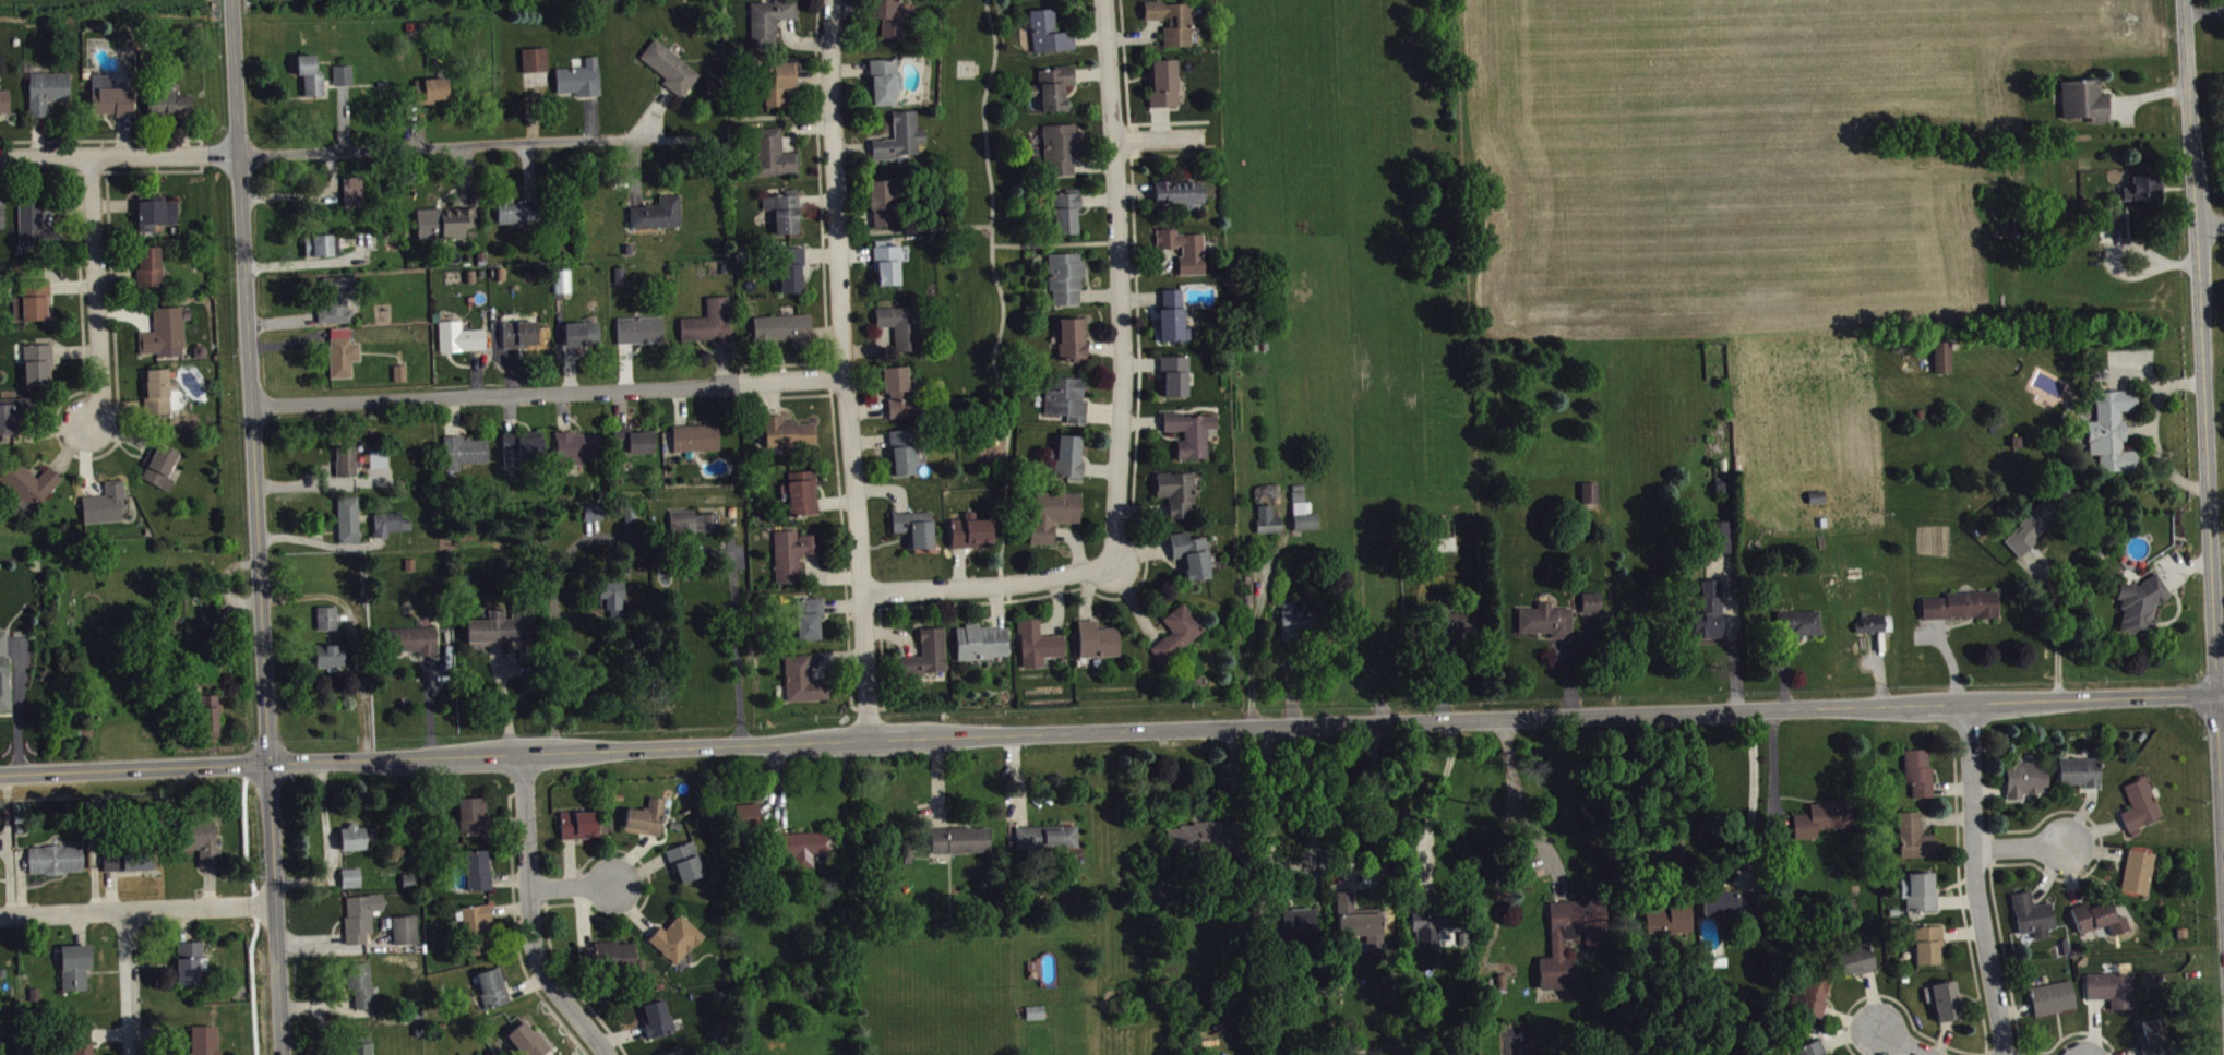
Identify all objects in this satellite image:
building: (888, 16)
road: (2205, 19)
building: (1170, 20)
building: (766, 22)
building: (1045, 32)
road: (815, 56)
building: (533, 59)
building: (668, 67)
building: (308, 74)
building: (340, 74)
building: (577, 77)
building: (883, 80)
building: (776, 81)
building: (1160, 82)
building: (1051, 85)
building: (429, 89)
building: (45, 91)
building: (107, 96)
building: (2, 99)
road: (1126, 100)
building: (167, 103)
building: (2087, 106)
road: (772, 116)
road: (342, 117)
road: (418, 125)
road: (122, 134)
road: (182, 134)
road: (36, 135)
building: (898, 135)
road: (105, 139)
road: (463, 144)
road: (1161, 144)
building: (1059, 146)
building: (770, 153)
road: (119, 154)
road: (201, 157)
road: (1131, 164)
road: (151, 169)
road: (87, 170)
road: (528, 170)
road: (37, 171)
road: (818, 171)
road: (464, 176)
building: (351, 190)
building: (1175, 193)
building: (2147, 194)
road: (306, 195)
building: (880, 202)
road: (113, 204)
road: (63, 206)
building: (513, 208)
building: (782, 209)
building: (1, 211)
building: (1062, 211)
building: (153, 212)
building: (655, 213)
building: (34, 221)
building: (443, 221)
building: (2114, 227)
road: (2211, 227)
road: (919, 228)
building: (319, 244)
road: (1049, 244)
building: (1179, 245)
road: (312, 261)
building: (884, 261)
building: (147, 263)
building: (789, 266)
road: (115, 275)
building: (1063, 276)
building: (560, 280)
road: (1121, 281)
road: (71, 284)
road: (999, 287)
road: (96, 290)
building: (334, 297)
building: (31, 298)
road: (125, 312)
building: (1171, 316)
road: (282, 319)
building: (707, 322)
building: (899, 325)
building: (781, 328)
building: (164, 329)
building: (638, 329)
building: (518, 333)
building: (579, 333)
building: (458, 336)
road: (825, 337)
building: (1071, 338)
road: (288, 341)
road: (74, 350)
building: (339, 351)
building: (35, 359)
road: (1138, 361)
building: (1945, 363)
road: (842, 368)
building: (398, 370)
road: (510, 370)
road: (476, 372)
building: (1172, 373)
building: (403, 379)
road: (250, 380)
building: (156, 388)
building: (899, 391)
road: (547, 392)
building: (1063, 397)
road: (121, 405)
building: (12, 409)
road: (509, 412)
building: (24, 413)
road: (451, 415)
road: (48, 429)
building: (785, 432)
building: (1188, 432)
road: (118, 434)
building: (2113, 436)
building: (693, 437)
building: (631, 439)
building: (521, 445)
road: (69, 446)
building: (575, 446)
road: (2205, 447)
building: (463, 448)
building: (901, 449)
building: (374, 455)
road: (80, 456)
building: (1066, 456)
building: (345, 458)
building: (158, 461)
road: (84, 463)
building: (381, 464)
building: (27, 481)
road: (326, 482)
building: (1174, 491)
building: (800, 492)
road: (838, 495)
building: (1591, 499)
building: (104, 502)
building: (590, 512)
building: (1050, 513)
building: (627, 514)
building: (346, 516)
building: (1304, 516)
building: (595, 518)
building: (388, 520)
building: (691, 520)
building: (2042, 525)
building: (1270, 526)
building: (912, 527)
building: (393, 529)
building: (972, 537)
road: (321, 542)
building: (1722, 542)
building: (1446, 550)
building: (790, 552)
building: (1188, 553)
road: (226, 582)
road: (989, 590)
road: (1124, 595)
building: (610, 597)
road: (943, 603)
building: (1593, 608)
building: (2141, 610)
building: (1962, 611)
building: (326, 615)
building: (806, 616)
road: (849, 616)
building: (1711, 618)
road: (344, 619)
road: (2056, 622)
building: (500, 623)
road: (878, 626)
building: (1549, 626)
building: (1301, 628)
building: (1802, 628)
building: (1459, 630)
building: (1877, 630)
building: (1174, 632)
road: (354, 635)
building: (410, 637)
building: (1095, 638)
building: (978, 640)
building: (1035, 642)
road: (740, 649)
road: (1735, 649)
building: (328, 652)
building: (924, 654)
building: (2, 672)
building: (800, 679)
road: (552, 680)
road: (504, 695)
road: (17, 698)
road: (850, 698)
road: (429, 703)
building: (203, 710)
road: (1111, 729)
traffic signals: (267, 762)
building: (1920, 777)
building: (2082, 778)
building: (2026, 784)
road: (1745, 791)
road: (1514, 798)
road: (1431, 801)
building: (2141, 812)
building: (470, 813)
road: (322, 818)
building: (749, 822)
road: (504, 824)
building: (648, 824)
building: (1825, 824)
road: (1671, 829)
building: (581, 830)
building: (354, 834)
building: (196, 838)
building: (358, 843)
building: (1200, 843)
building: (1915, 843)
building: (962, 846)
road: (2020, 851)
building: (809, 852)
building: (53, 856)
road: (93, 856)
building: (125, 856)
road: (1348, 863)
road: (1280, 864)
building: (131, 866)
building: (476, 866)
building: (686, 867)
road: (8, 874)
building: (349, 875)
building: (2139, 877)
road: (307, 878)
road: (509, 878)
road: (1976, 879)
road: (20, 882)
building: (352, 884)
road: (572, 884)
road: (208, 885)
road: (111, 888)
building: (1920, 898)
road: (555, 902)
road: (509, 907)
road: (274, 908)
road: (136, 909)
building: (1726, 909)
building: (359, 914)
road: (529, 914)
road: (529, 920)
building: (2034, 922)
building: (2094, 922)
road: (184, 923)
building: (474, 925)
building: (1667, 925)
road: (79, 926)
building: (403, 927)
building: (1360, 927)
road: (515, 928)
building: (1300, 930)
building: (1433, 932)
road: (333, 942)
building: (1573, 944)
road: (335, 945)
building: (679, 945)
building: (1928, 950)
building: (187, 959)
building: (609, 960)
building: (73, 962)
building: (1856, 967)
road: (561, 968)
building: (2, 970)
road: (128, 982)
building: (359, 982)
road: (525, 983)
building: (0, 985)
building: (491, 985)
building: (2113, 995)
building: (1814, 1000)
road: (315, 1003)
building: (2054, 1004)
building: (1948, 1007)
building: (1037, 1018)
building: (659, 1024)
road: (162, 1030)
road: (109, 1032)
building: (200, 1040)
building: (79, 1041)
building: (2155, 1041)
road: (1898, 1042)
building: (529, 1043)
building: (363, 1047)
building: (1813, 1052)

